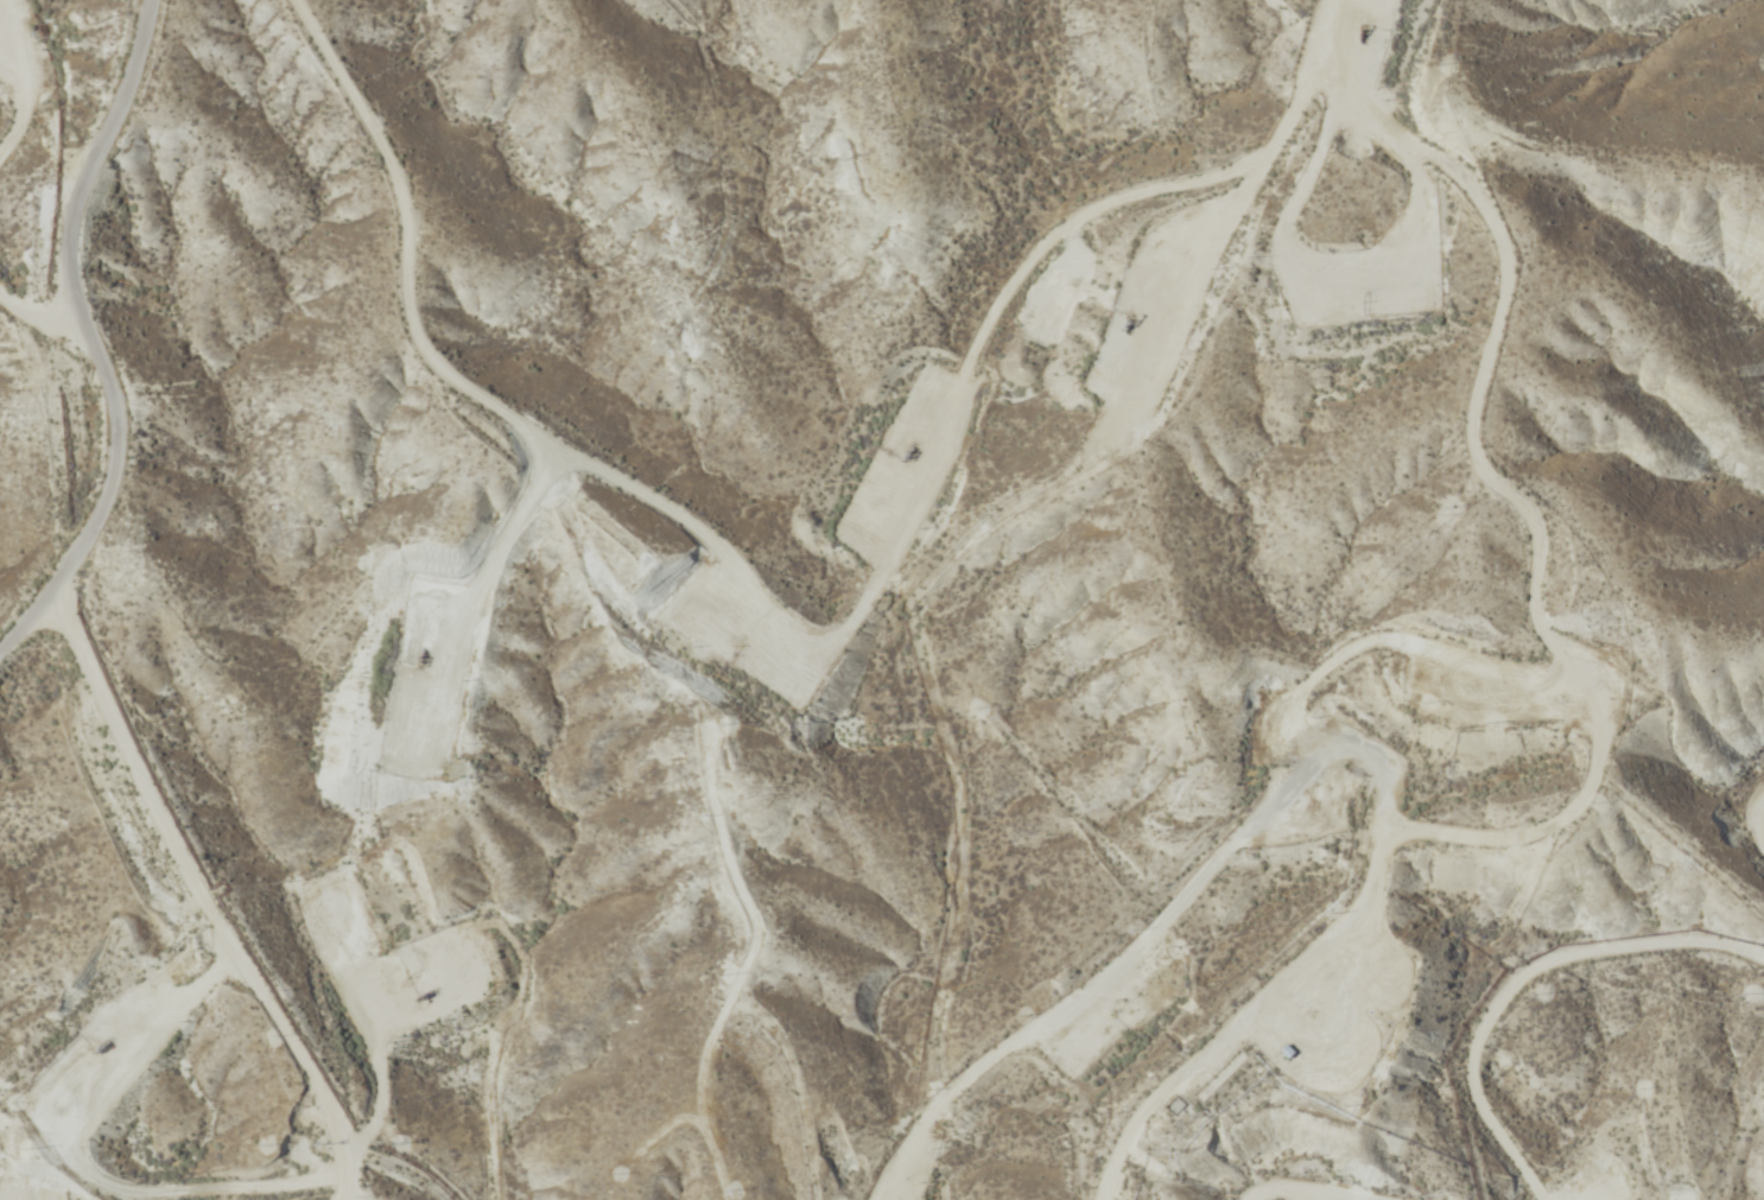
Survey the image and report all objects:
road: (107, 324)
road: (197, 906)
building: (1262, 1035)
building: (1083, 1132)

